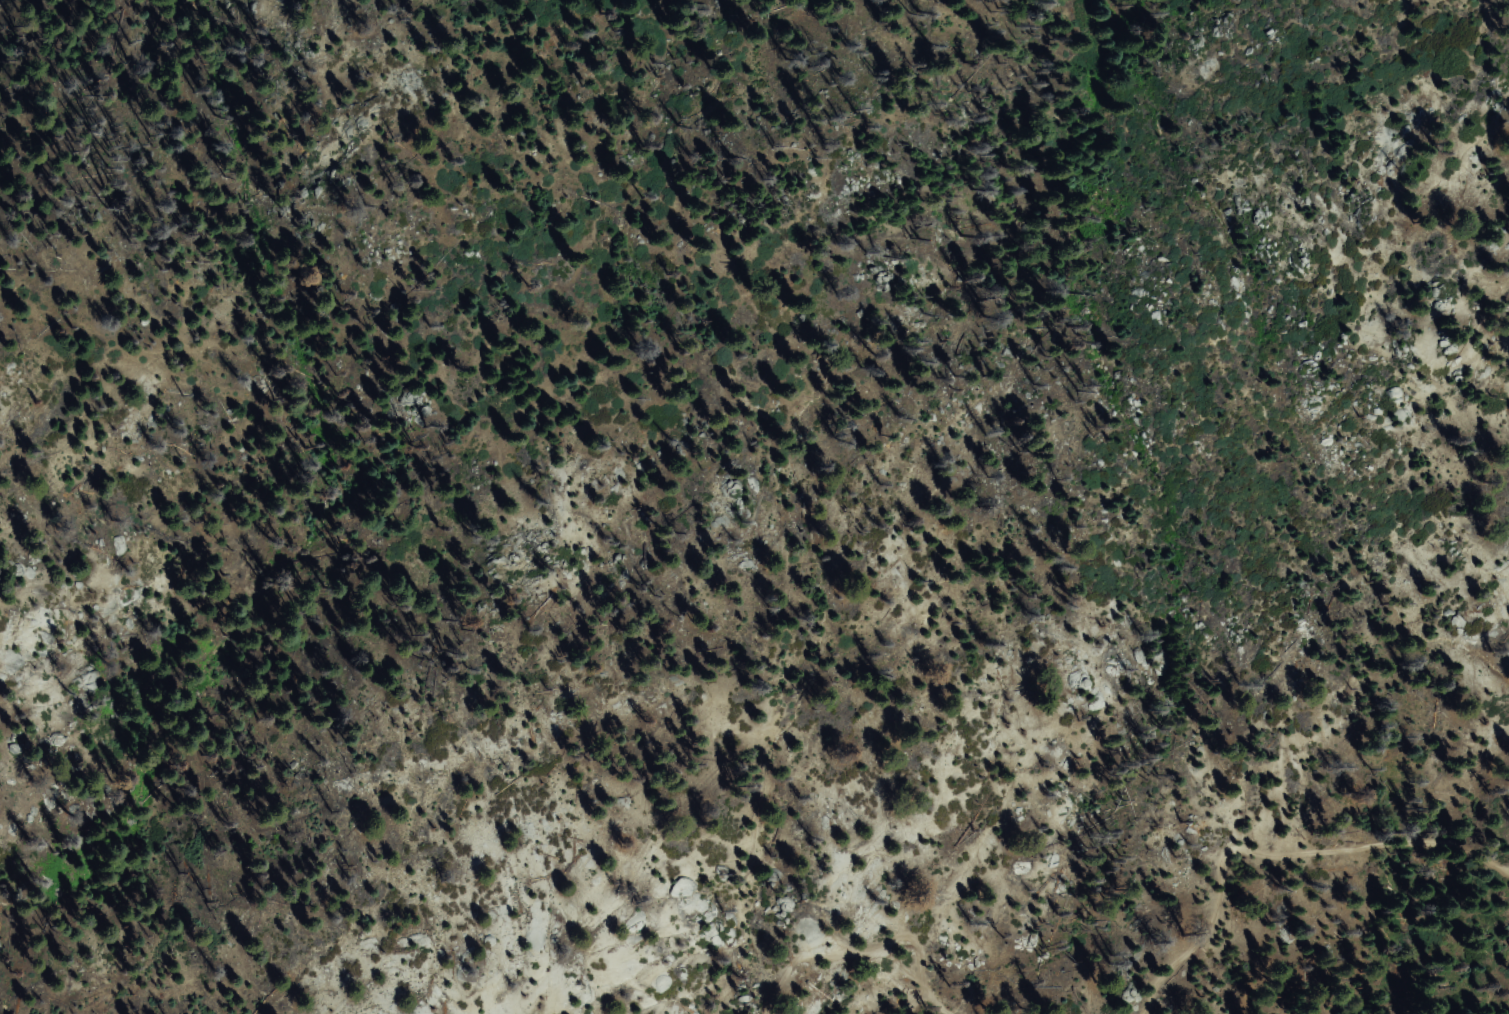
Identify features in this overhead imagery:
building: (223, 715)
building: (14, 814)
road: (1273, 854)
road: (853, 932)

